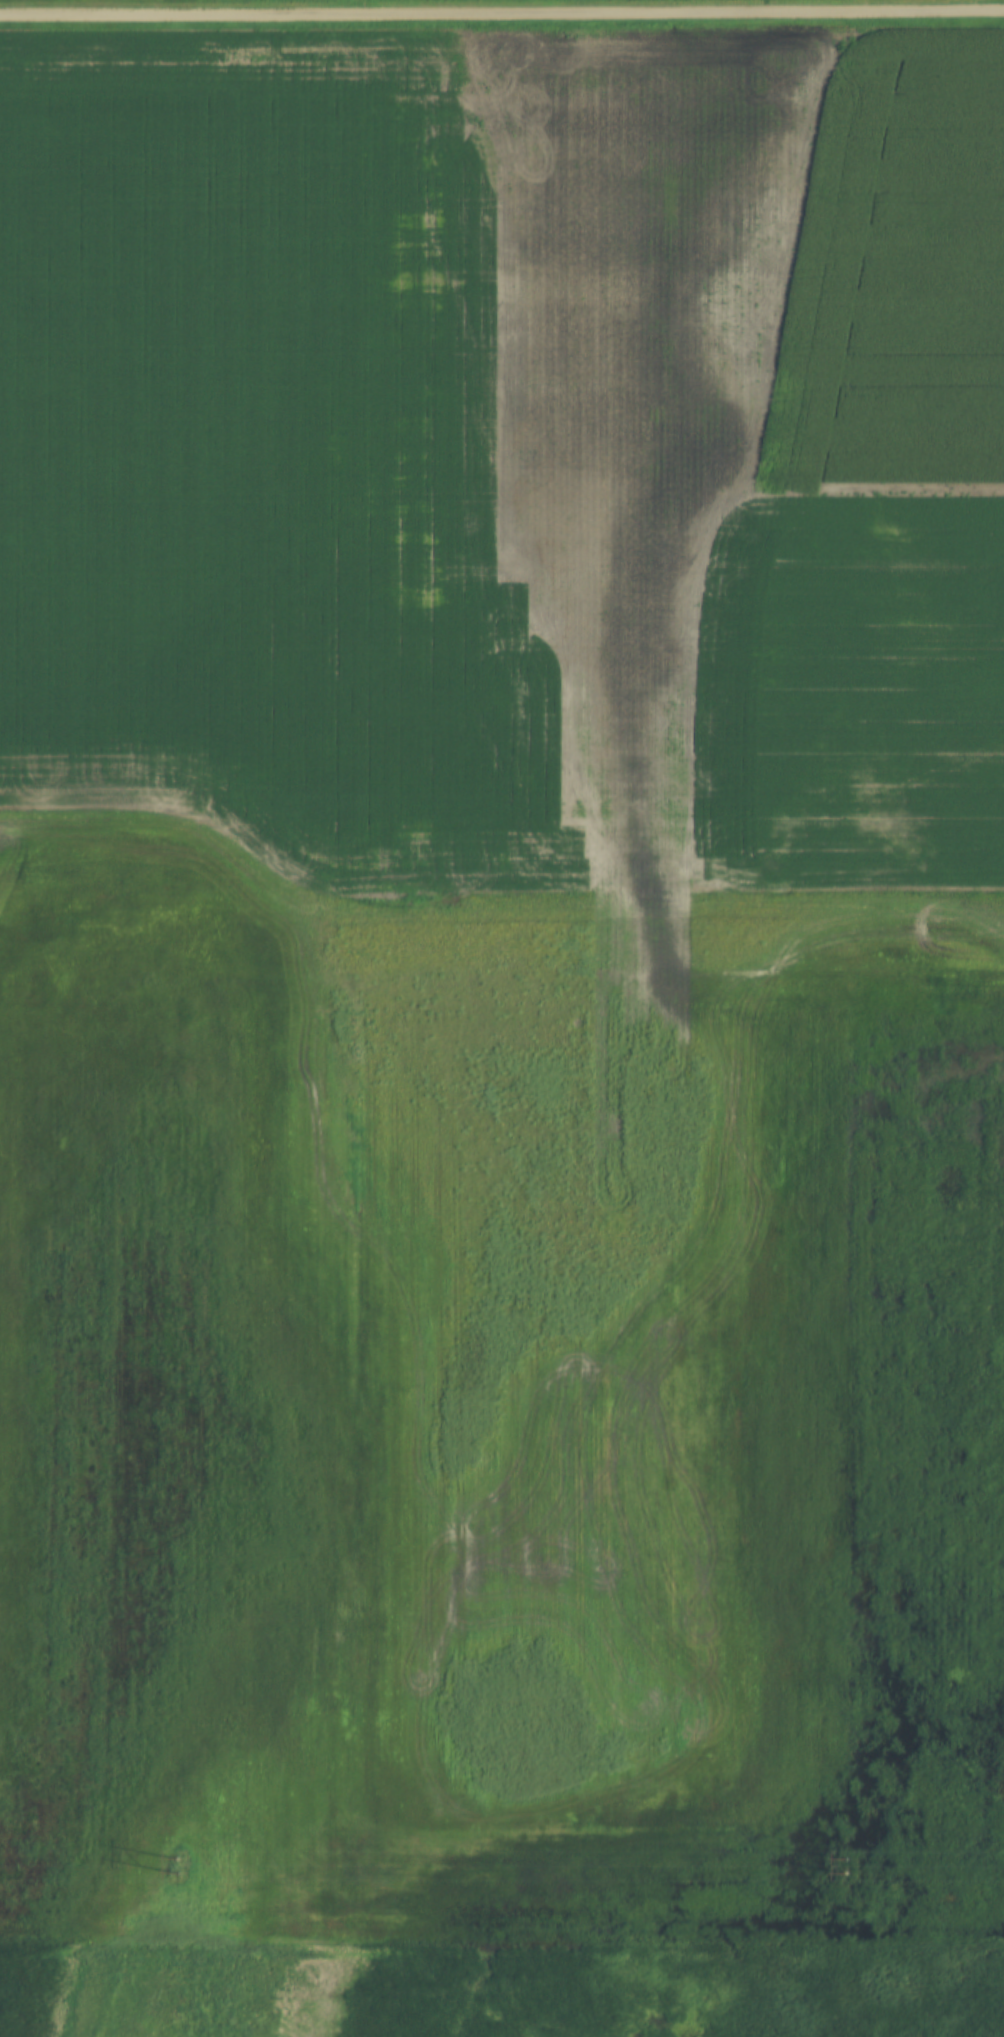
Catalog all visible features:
road: (502, 14)
crop: (451, 865)
power tower: (173, 1864)
power tower: (843, 1867)

